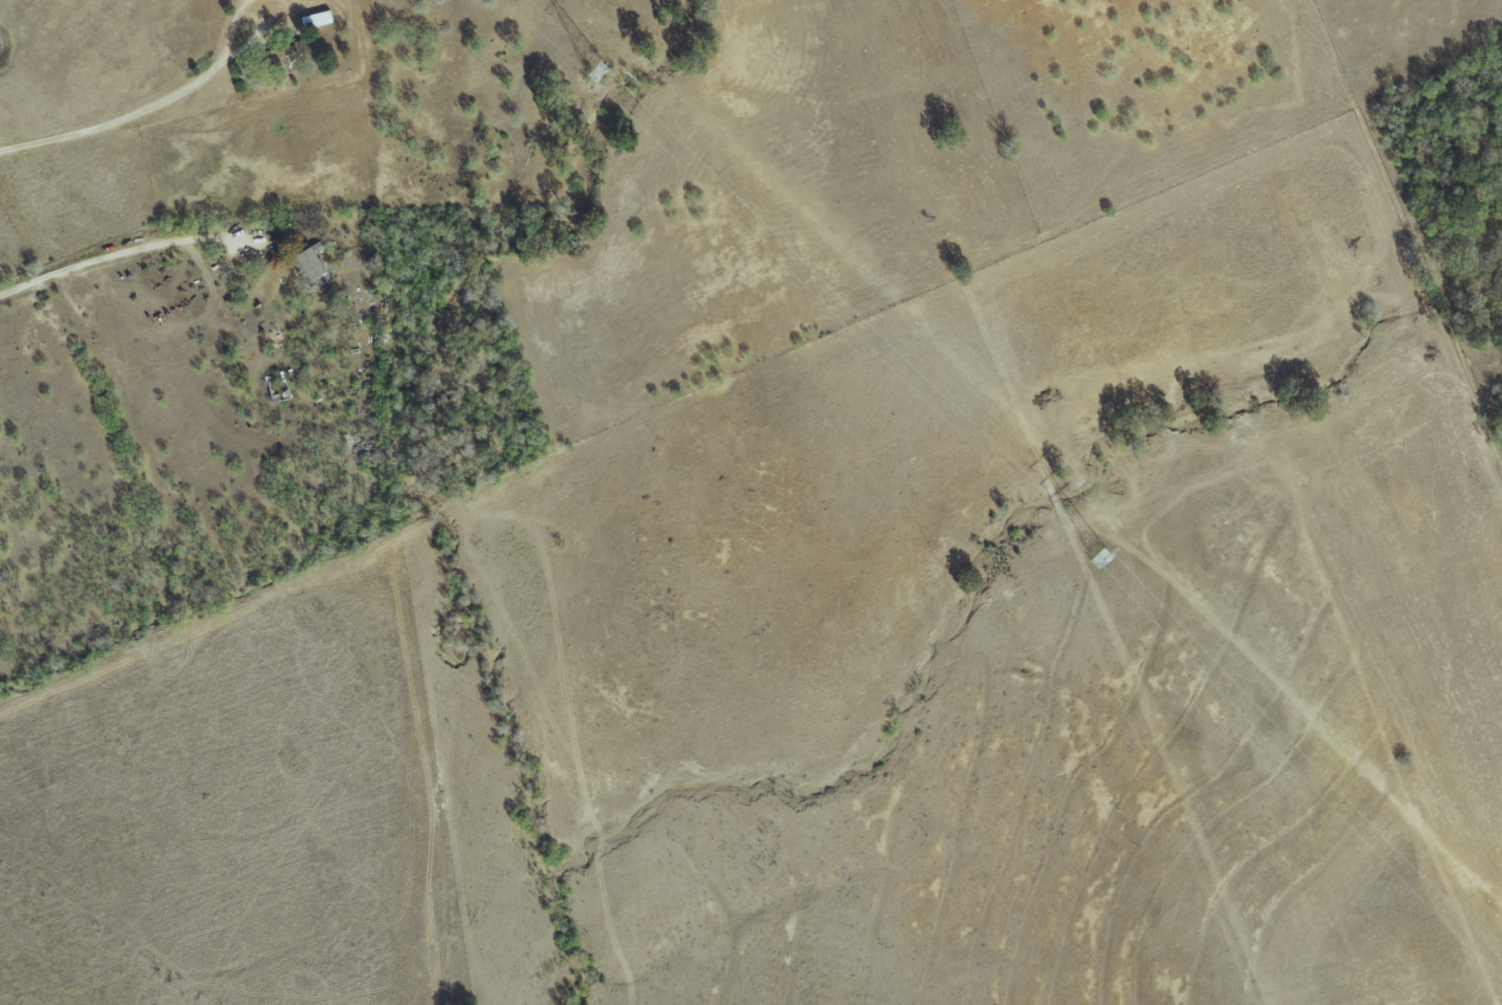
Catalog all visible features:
power tower: (596, 72)
road: (146, 106)
road: (112, 254)
building: (312, 265)
power tower: (1101, 559)

